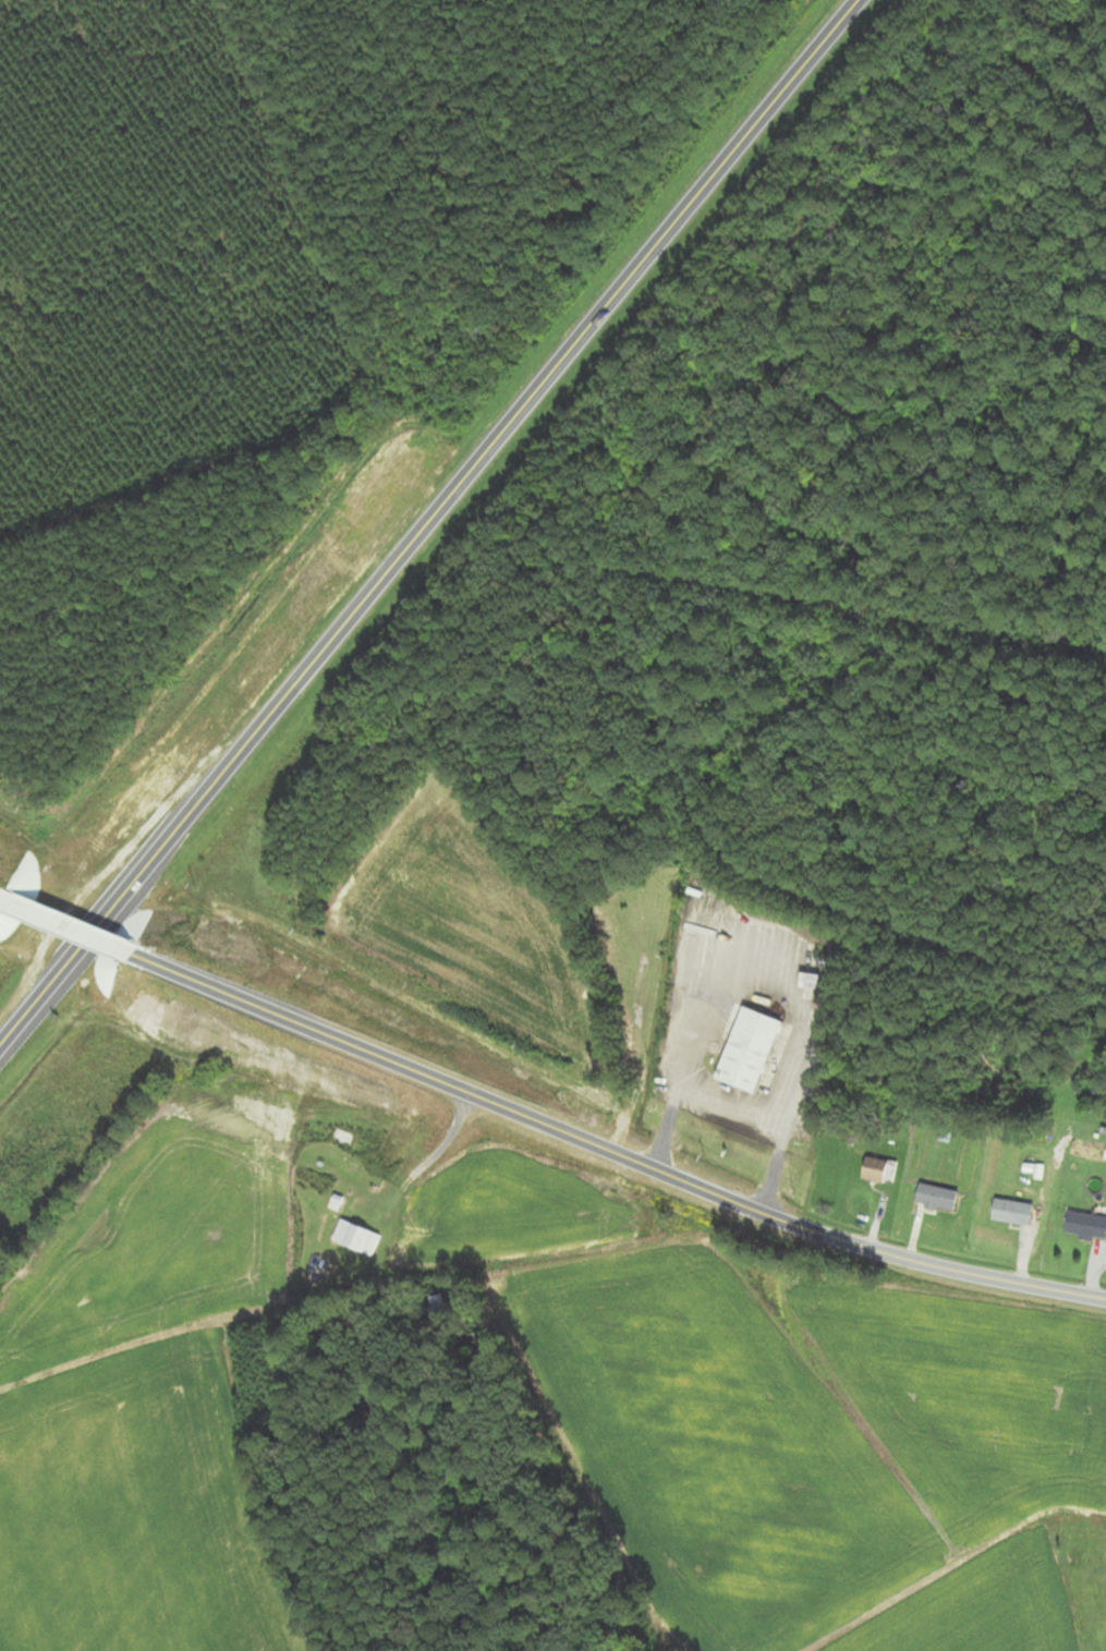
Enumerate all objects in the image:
road: (422, 519)
road: (907, 631)
road: (902, 899)
road: (64, 928)
building: (751, 1051)
building: (400, 1143)
road: (607, 1154)
building: (874, 1170)
building: (935, 1198)
building: (1010, 1212)
building: (1085, 1226)
building: (360, 1237)
building: (324, 1266)
building: (442, 1303)

